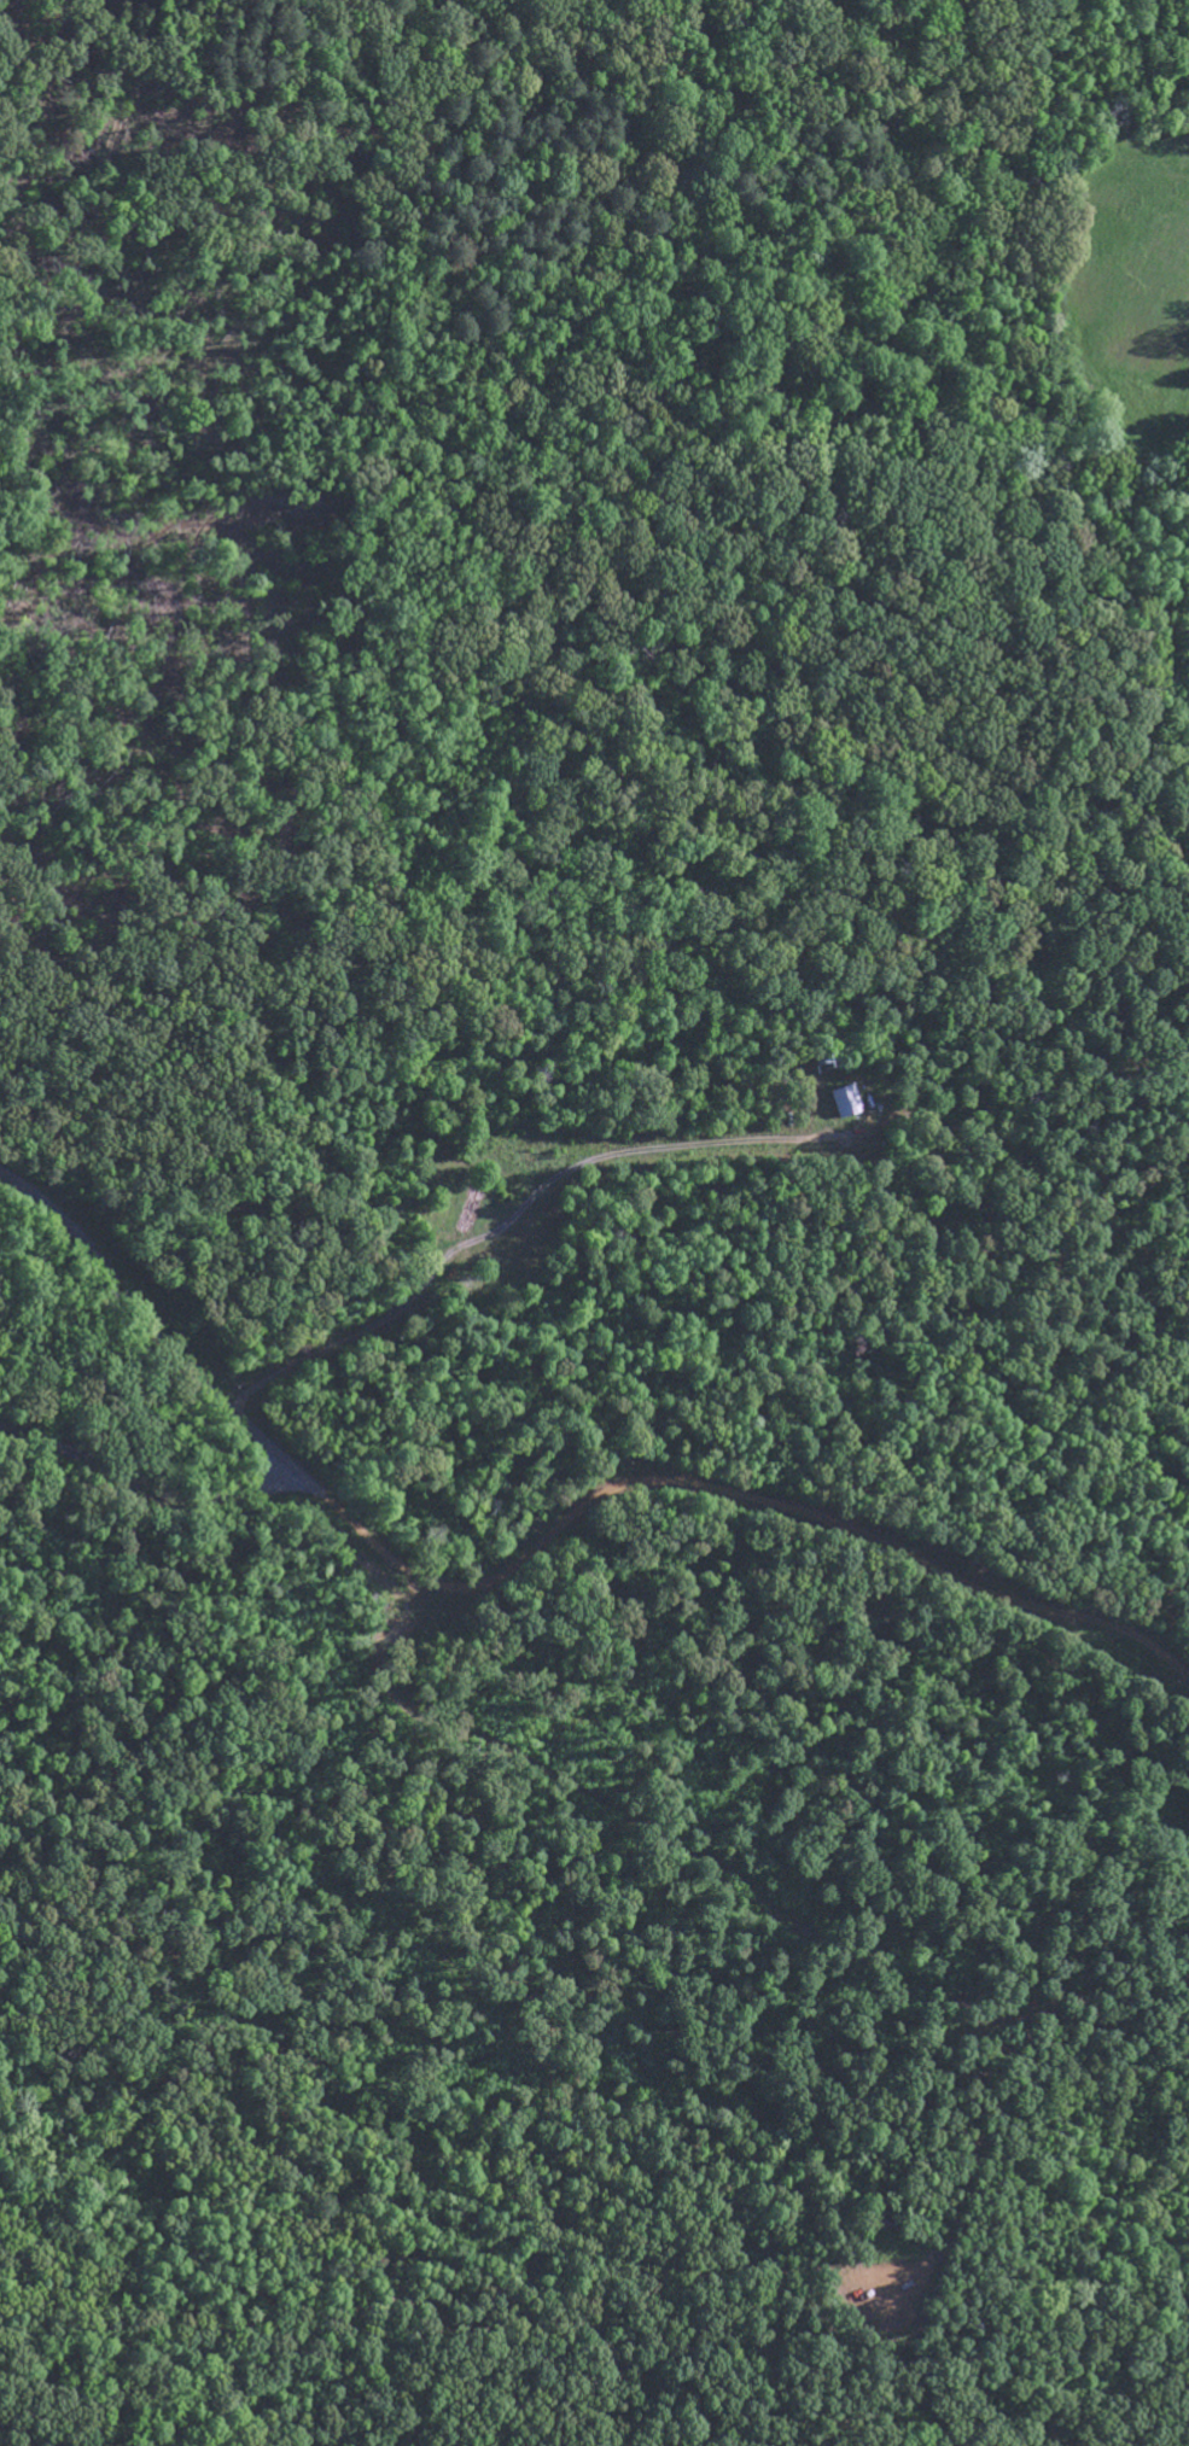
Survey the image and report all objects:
building: (850, 1103)
road: (515, 1213)
road: (144, 1489)
road: (538, 1548)

